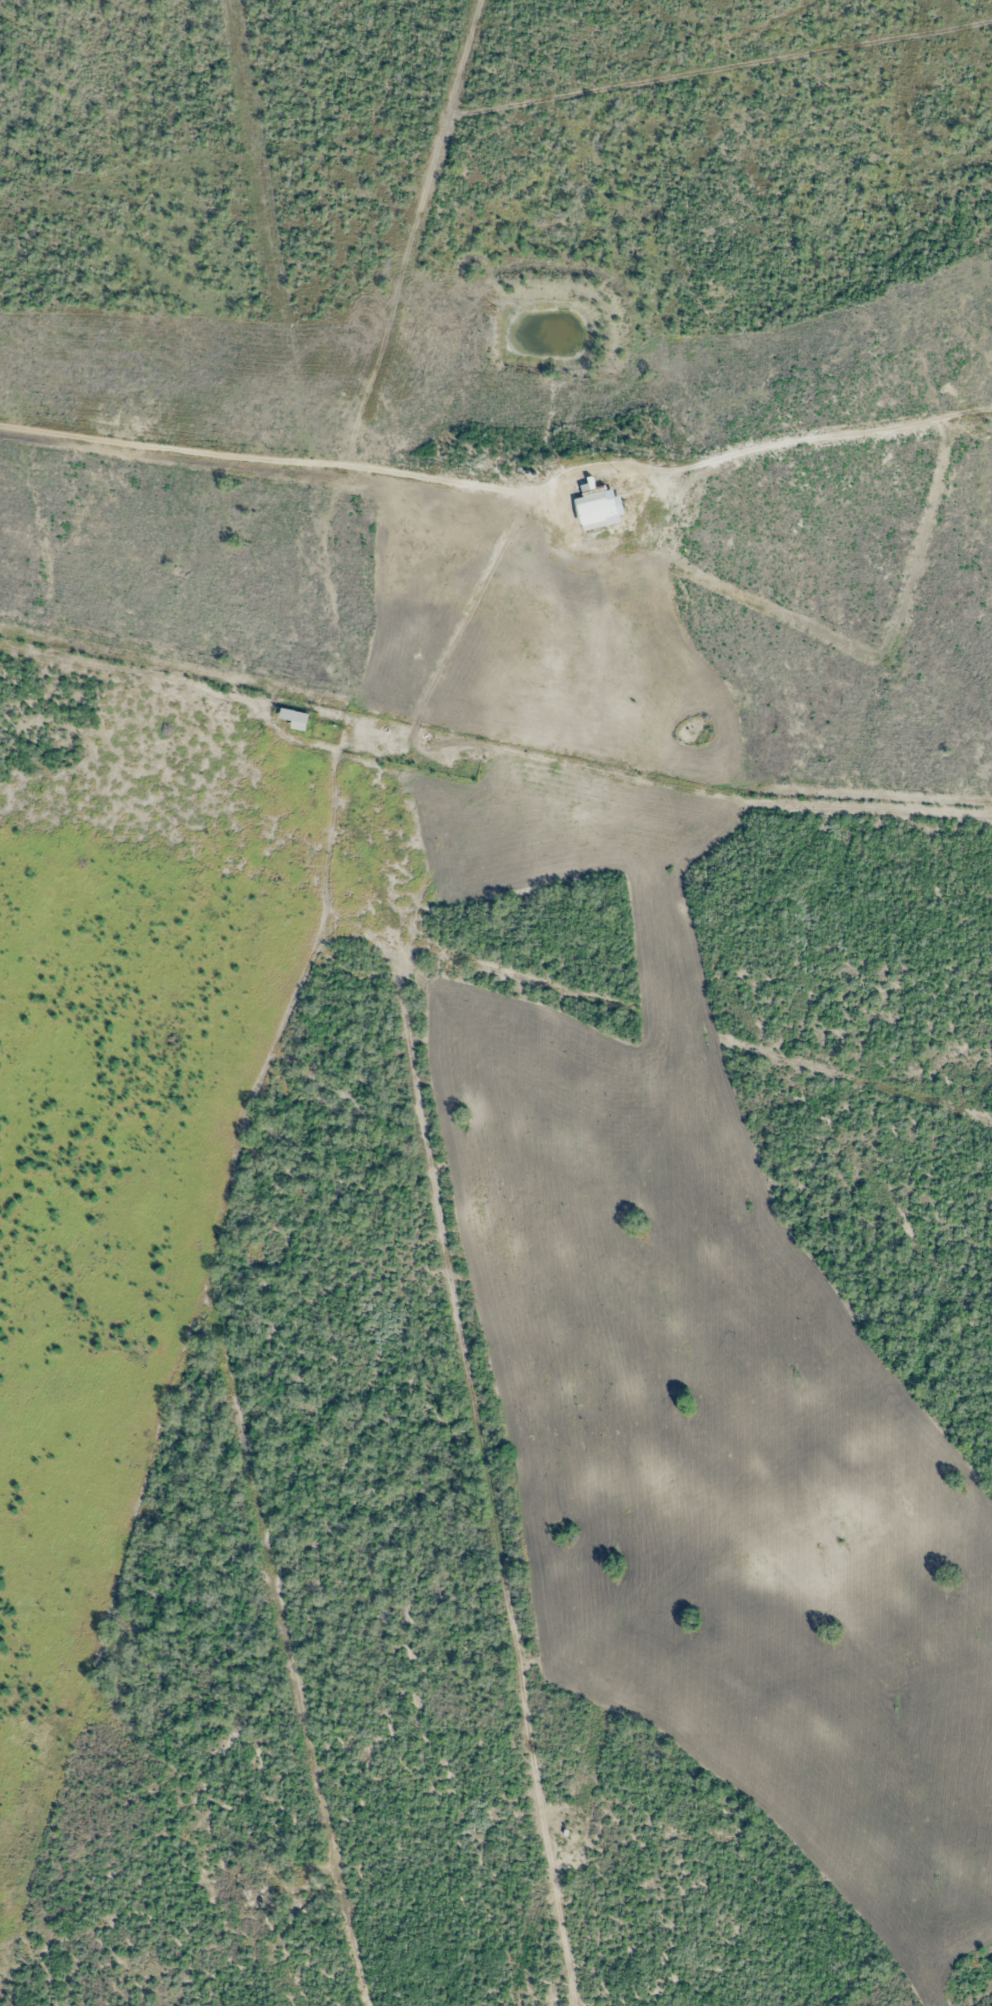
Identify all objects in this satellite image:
building: (593, 508)
building: (290, 716)

